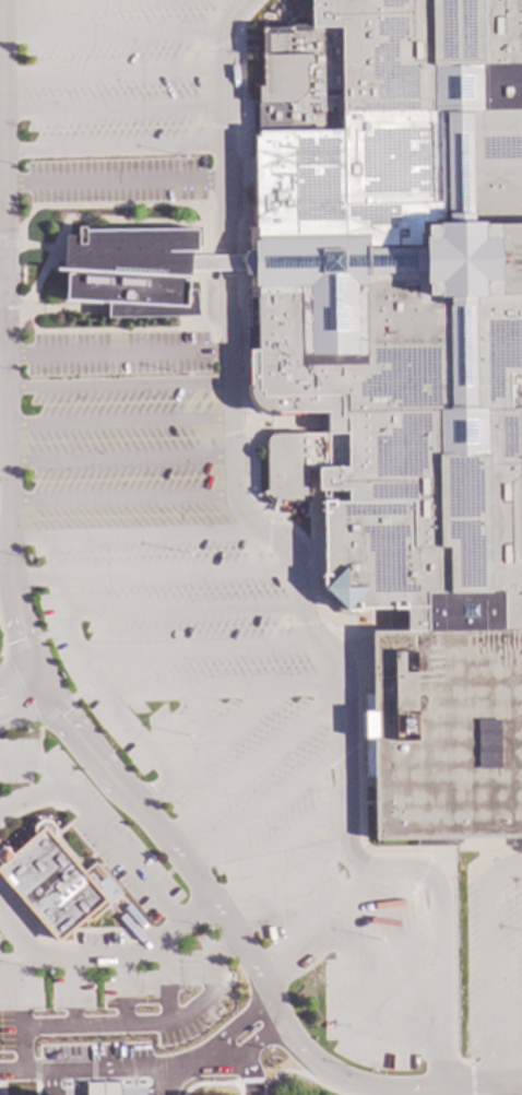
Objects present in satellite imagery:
road: (24, 0)
road: (117, 33)
road: (116, 72)
road: (116, 110)
road: (4, 136)
road: (116, 148)
road: (2, 151)
road: (116, 185)
road: (9, 245)
building: (215, 263)
road: (215, 264)
road: (3, 271)
building: (131, 272)
road: (9, 303)
road: (121, 353)
building: (403, 375)
road: (121, 385)
road: (4, 388)
road: (121, 421)
road: (122, 460)
road: (123, 497)
road: (138, 535)
road: (5, 538)
road: (299, 570)
road: (157, 576)
road: (183, 611)
parking lot: (175, 629)
road: (1, 641)
road: (202, 648)
road: (16, 679)
road: (98, 688)
road: (19, 691)
road: (191, 692)
road: (25, 714)
road: (234, 728)
road: (39, 740)
road: (33, 758)
road: (253, 766)
road: (43, 779)
road: (122, 790)
road: (29, 796)
road: (270, 804)
road: (282, 846)
road: (123, 851)
building: (54, 883)
road: (293, 886)
road: (384, 910)
road: (316, 918)
road: (394, 954)
road: (110, 959)
parking lot: (494, 966)
road: (165, 984)
road: (123, 992)
road: (70, 993)
road: (21, 1005)
road: (398, 1006)
road: (346, 1019)
road: (158, 1024)
road: (62, 1061)
road: (147, 1070)
road: (282, 1071)
road: (471, 1079)
road: (164, 1082)
road: (250, 1082)
road: (50, 1083)
road: (17, 1084)
road: (209, 1084)
road: (323, 1087)
road: (36, 1090)
road: (500, 1091)

